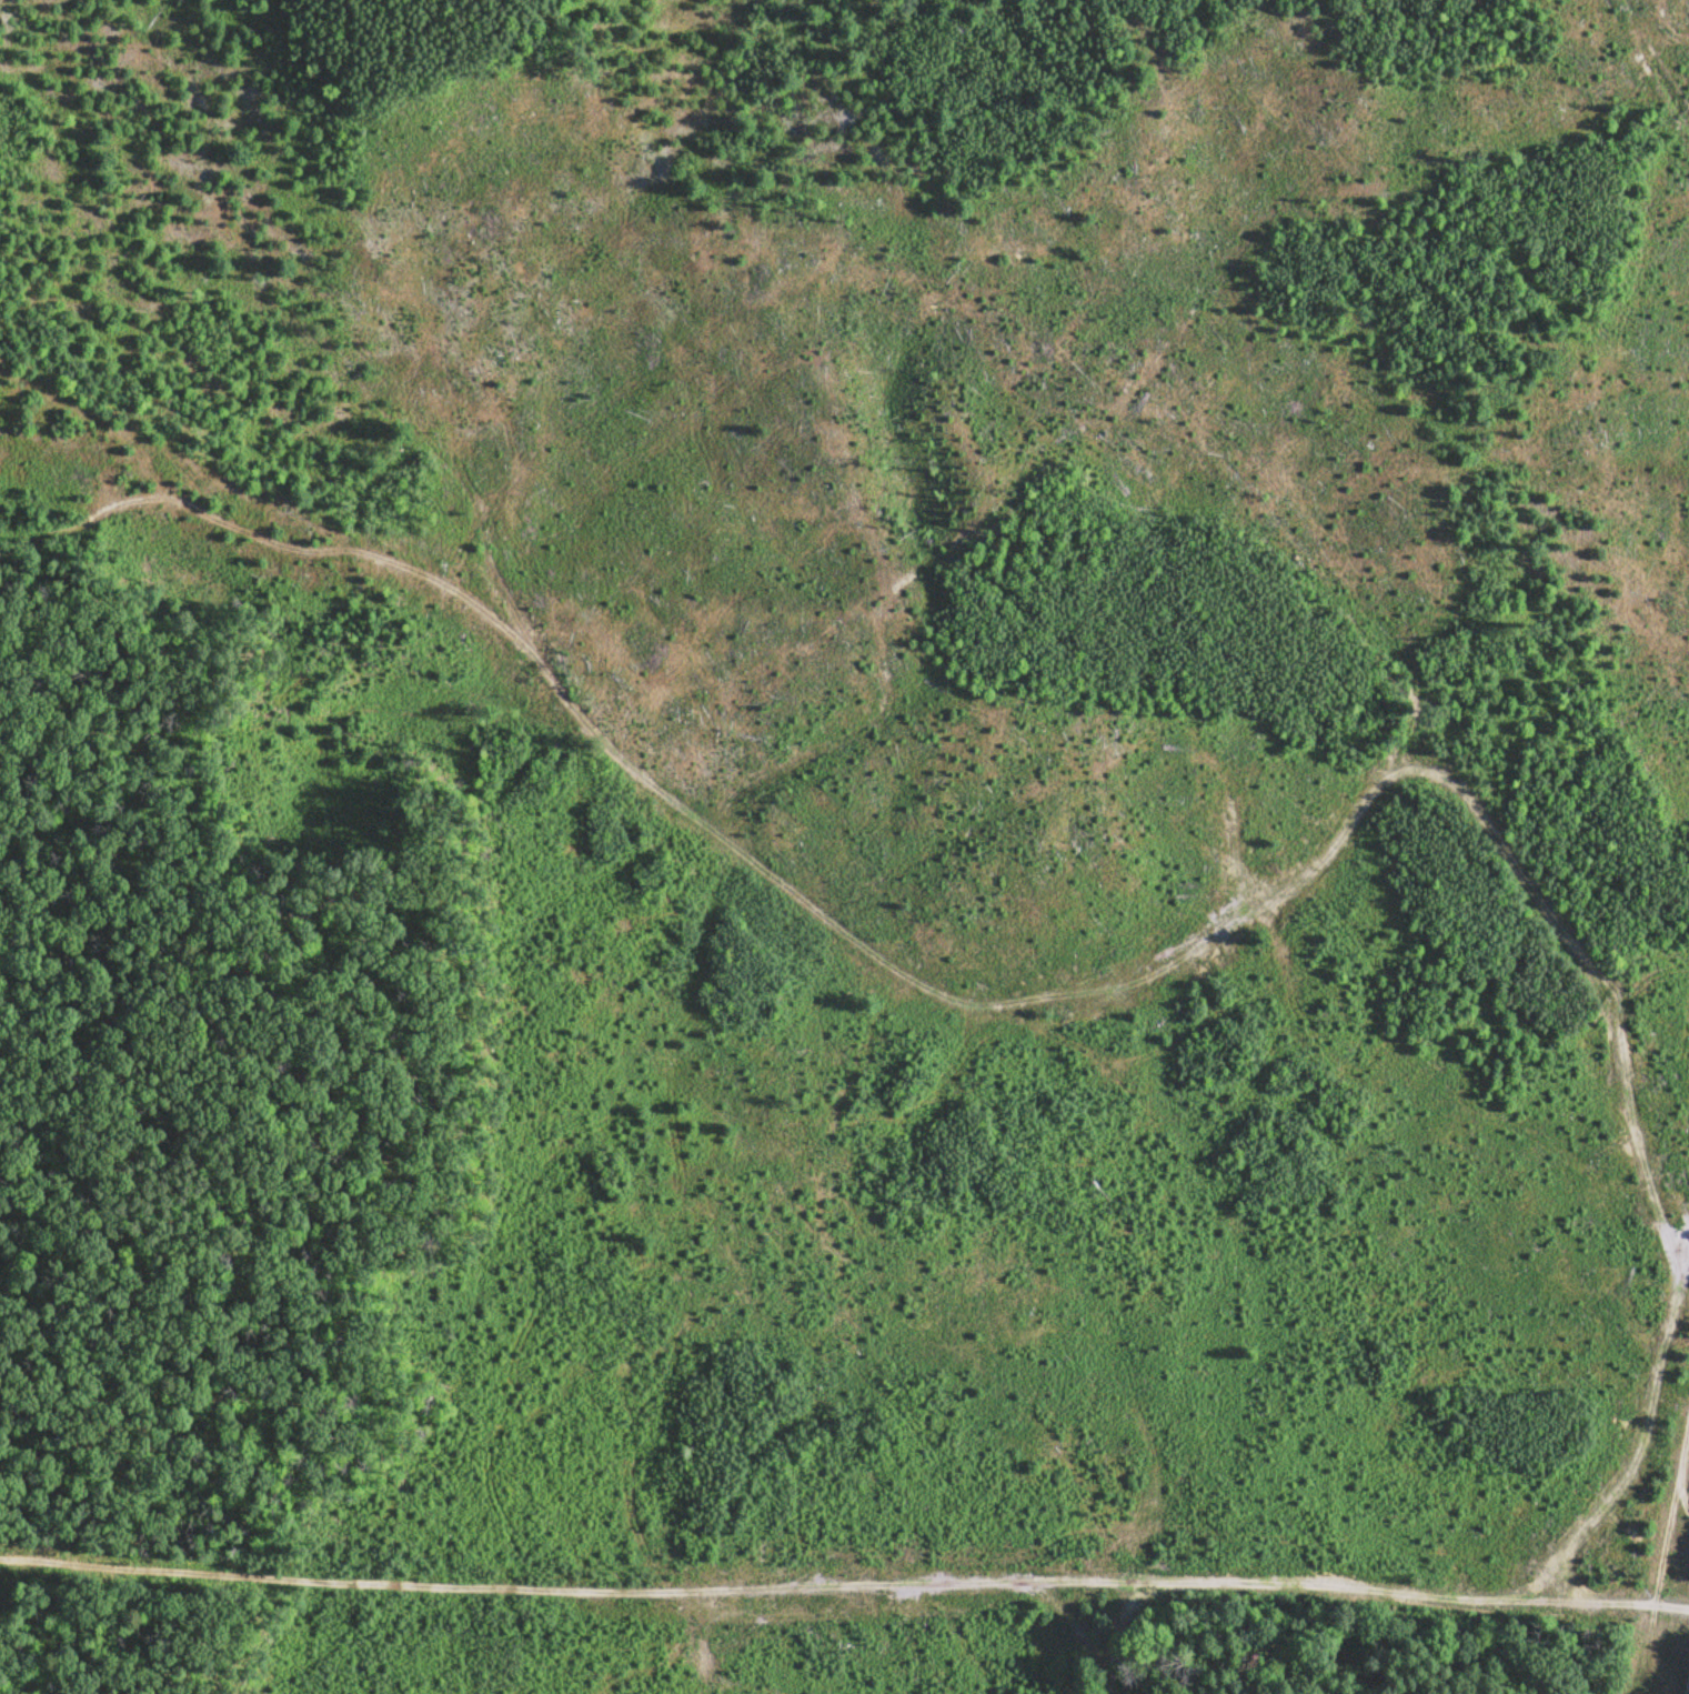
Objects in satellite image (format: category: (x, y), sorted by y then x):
road: (844, 1590)
road: (1109, 1641)
road: (1687, 1683)

